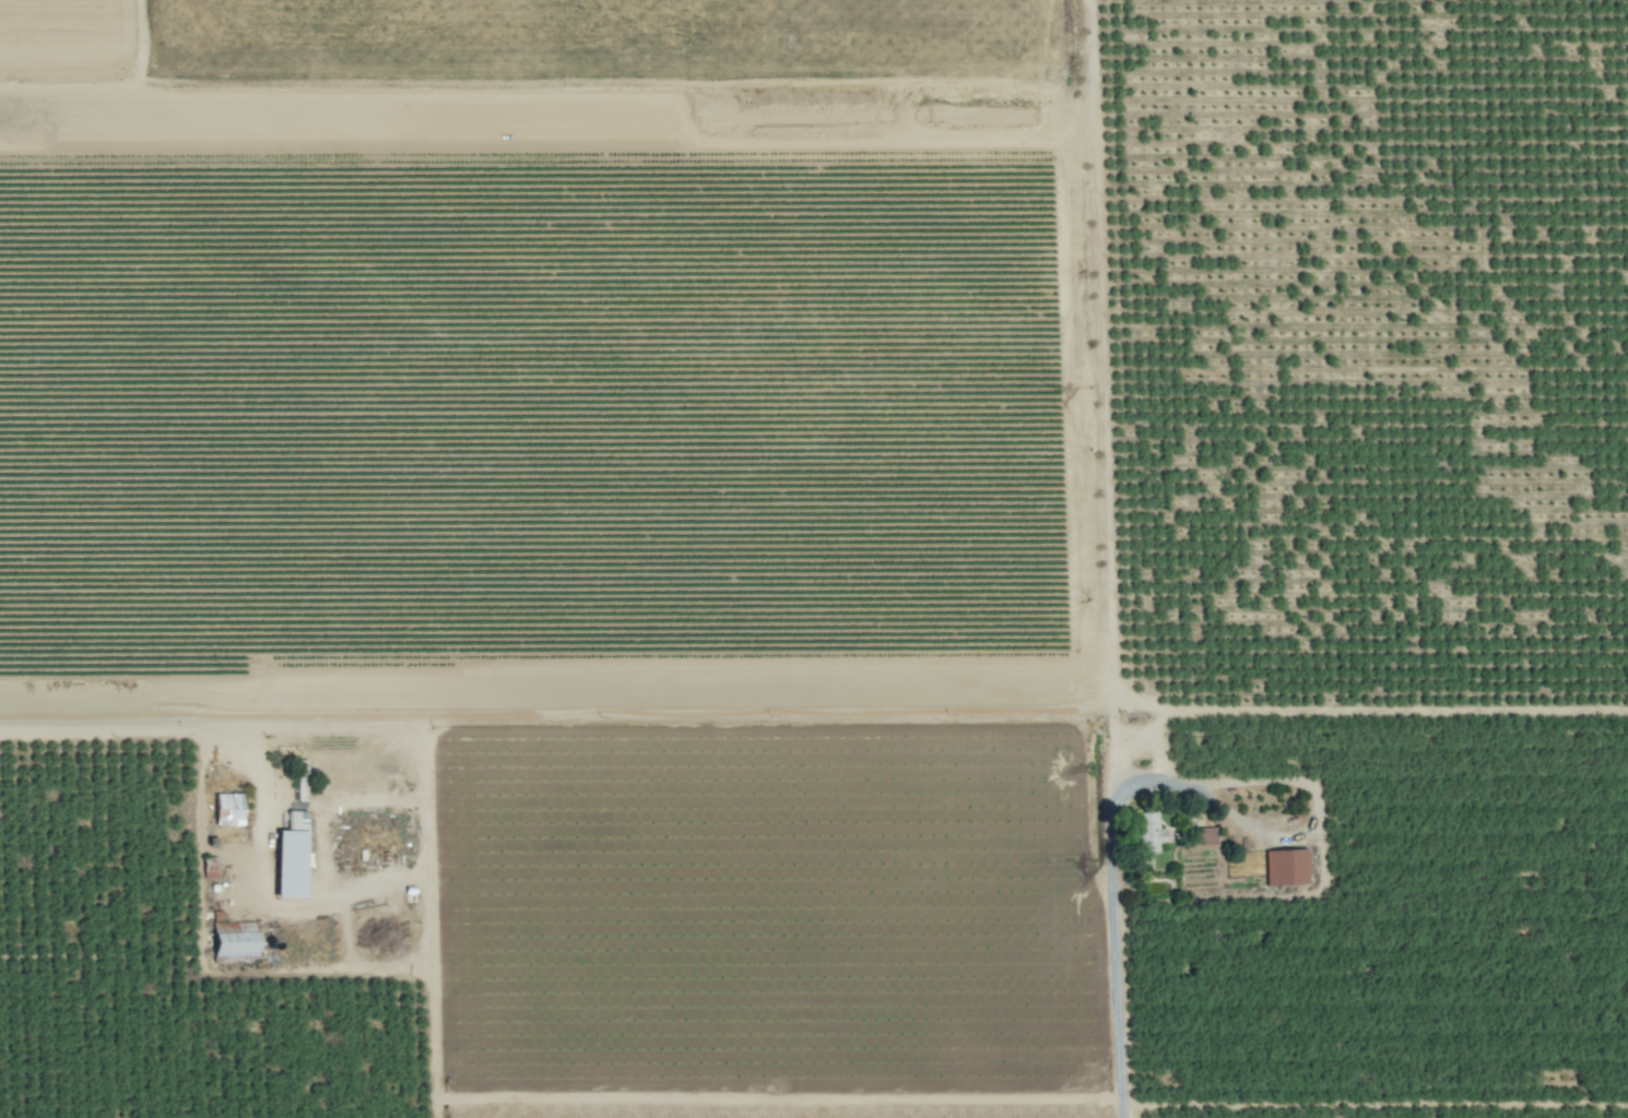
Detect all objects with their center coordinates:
road: (203, 724)
building: (227, 809)
road: (1317, 814)
building: (1146, 832)
building: (1201, 836)
building: (291, 857)
building: (1286, 867)
road: (329, 903)
road: (1116, 914)
building: (233, 940)

